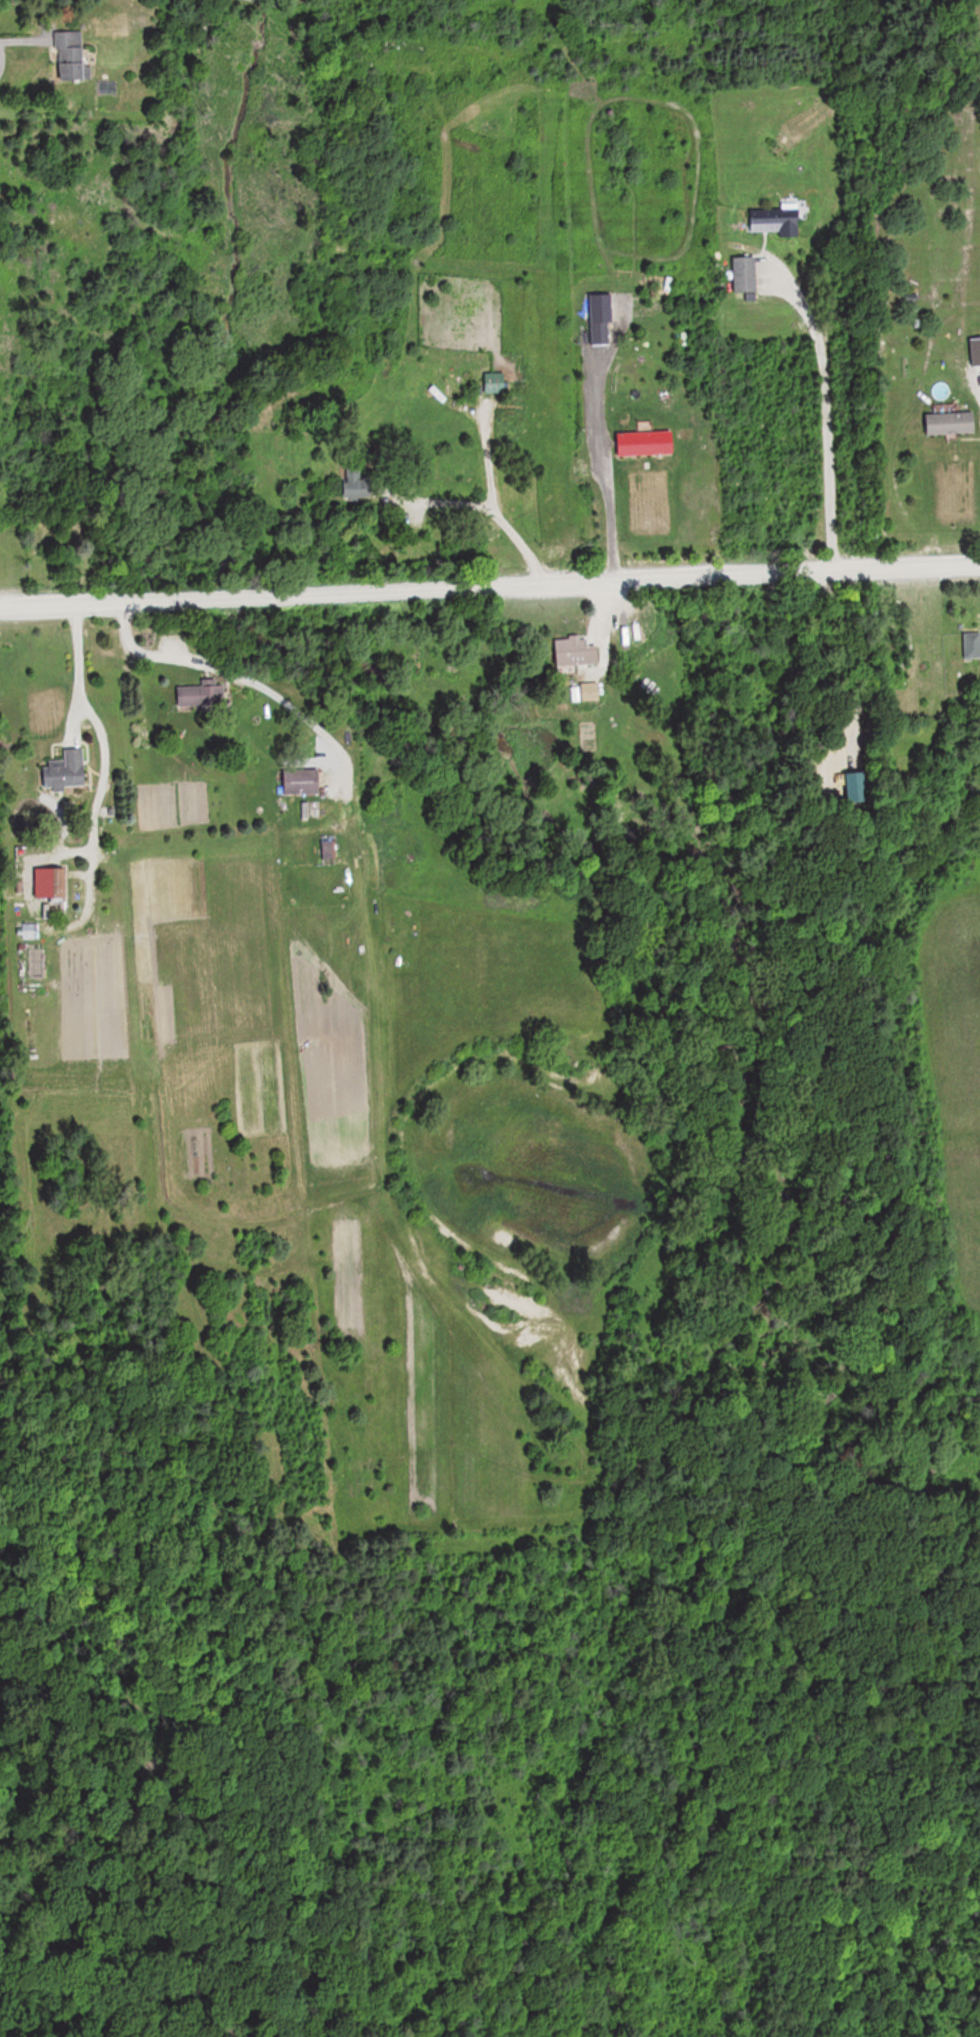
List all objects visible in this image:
road: (17, 40)
building: (71, 57)
building: (777, 221)
building: (745, 275)
road: (591, 408)
road: (827, 418)
building: (951, 422)
building: (645, 442)
building: (358, 481)
road: (497, 507)
road: (456, 509)
road: (605, 522)
road: (489, 590)
building: (971, 645)
building: (578, 652)
road: (74, 670)
road: (237, 674)
building: (592, 692)
building: (201, 695)
road: (97, 749)
building: (66, 771)
building: (302, 781)
building: (53, 882)

